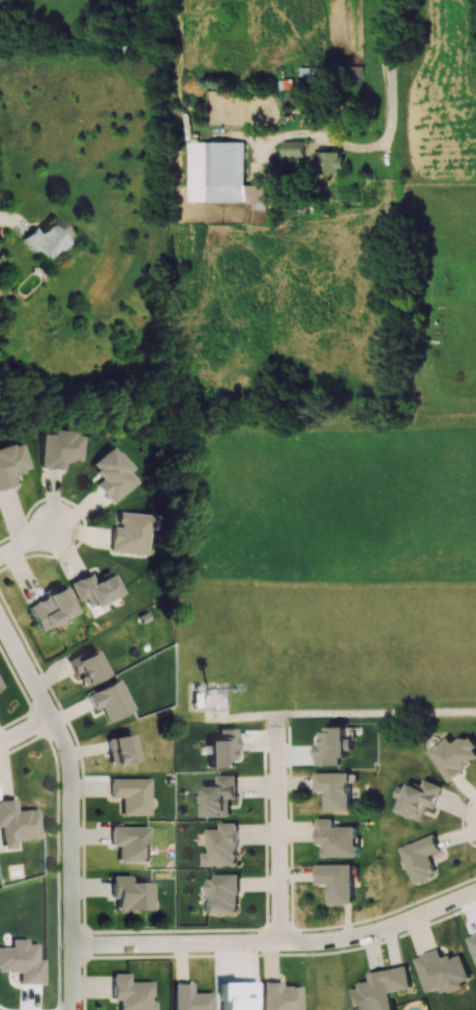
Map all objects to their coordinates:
road: (395, 111)
building: (293, 148)
building: (330, 161)
building: (220, 174)
road: (9, 219)
building: (45, 238)
building: (58, 449)
building: (11, 463)
building: (111, 474)
building: (130, 533)
road: (27, 541)
building: (94, 588)
building: (50, 607)
building: (86, 667)
building: (110, 700)
road: (347, 712)
road: (25, 730)
building: (332, 746)
building: (120, 749)
building: (221, 749)
building: (454, 755)
building: (334, 789)
building: (131, 795)
building: (219, 796)
building: (417, 798)
road: (70, 808)
building: (16, 823)
road: (277, 834)
building: (336, 838)
building: (130, 843)
building: (221, 845)
building: (420, 858)
building: (337, 881)
building: (130, 894)
building: (222, 894)
road: (278, 942)
building: (442, 971)
building: (381, 988)
building: (131, 993)
building: (235, 995)
building: (279, 996)
building: (189, 998)

